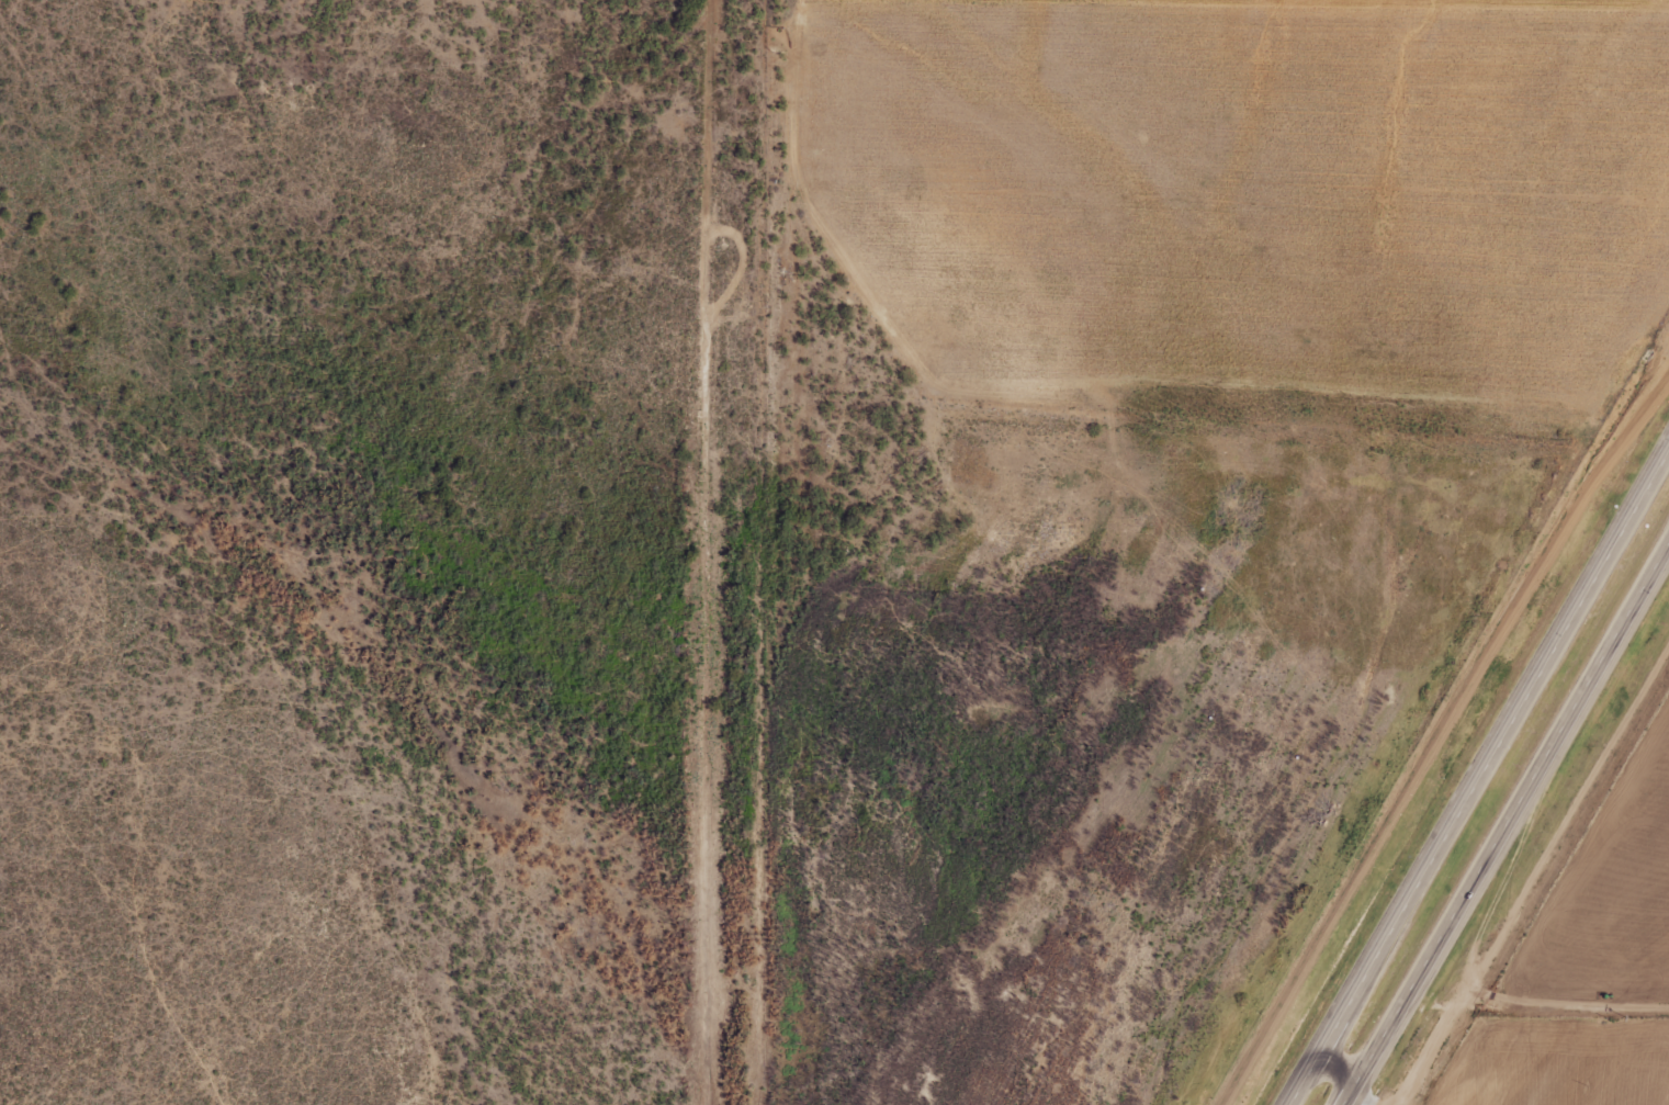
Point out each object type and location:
road: (673, 550)
road: (1482, 779)
road: (1511, 825)
road: (1538, 870)
road: (1566, 1004)

